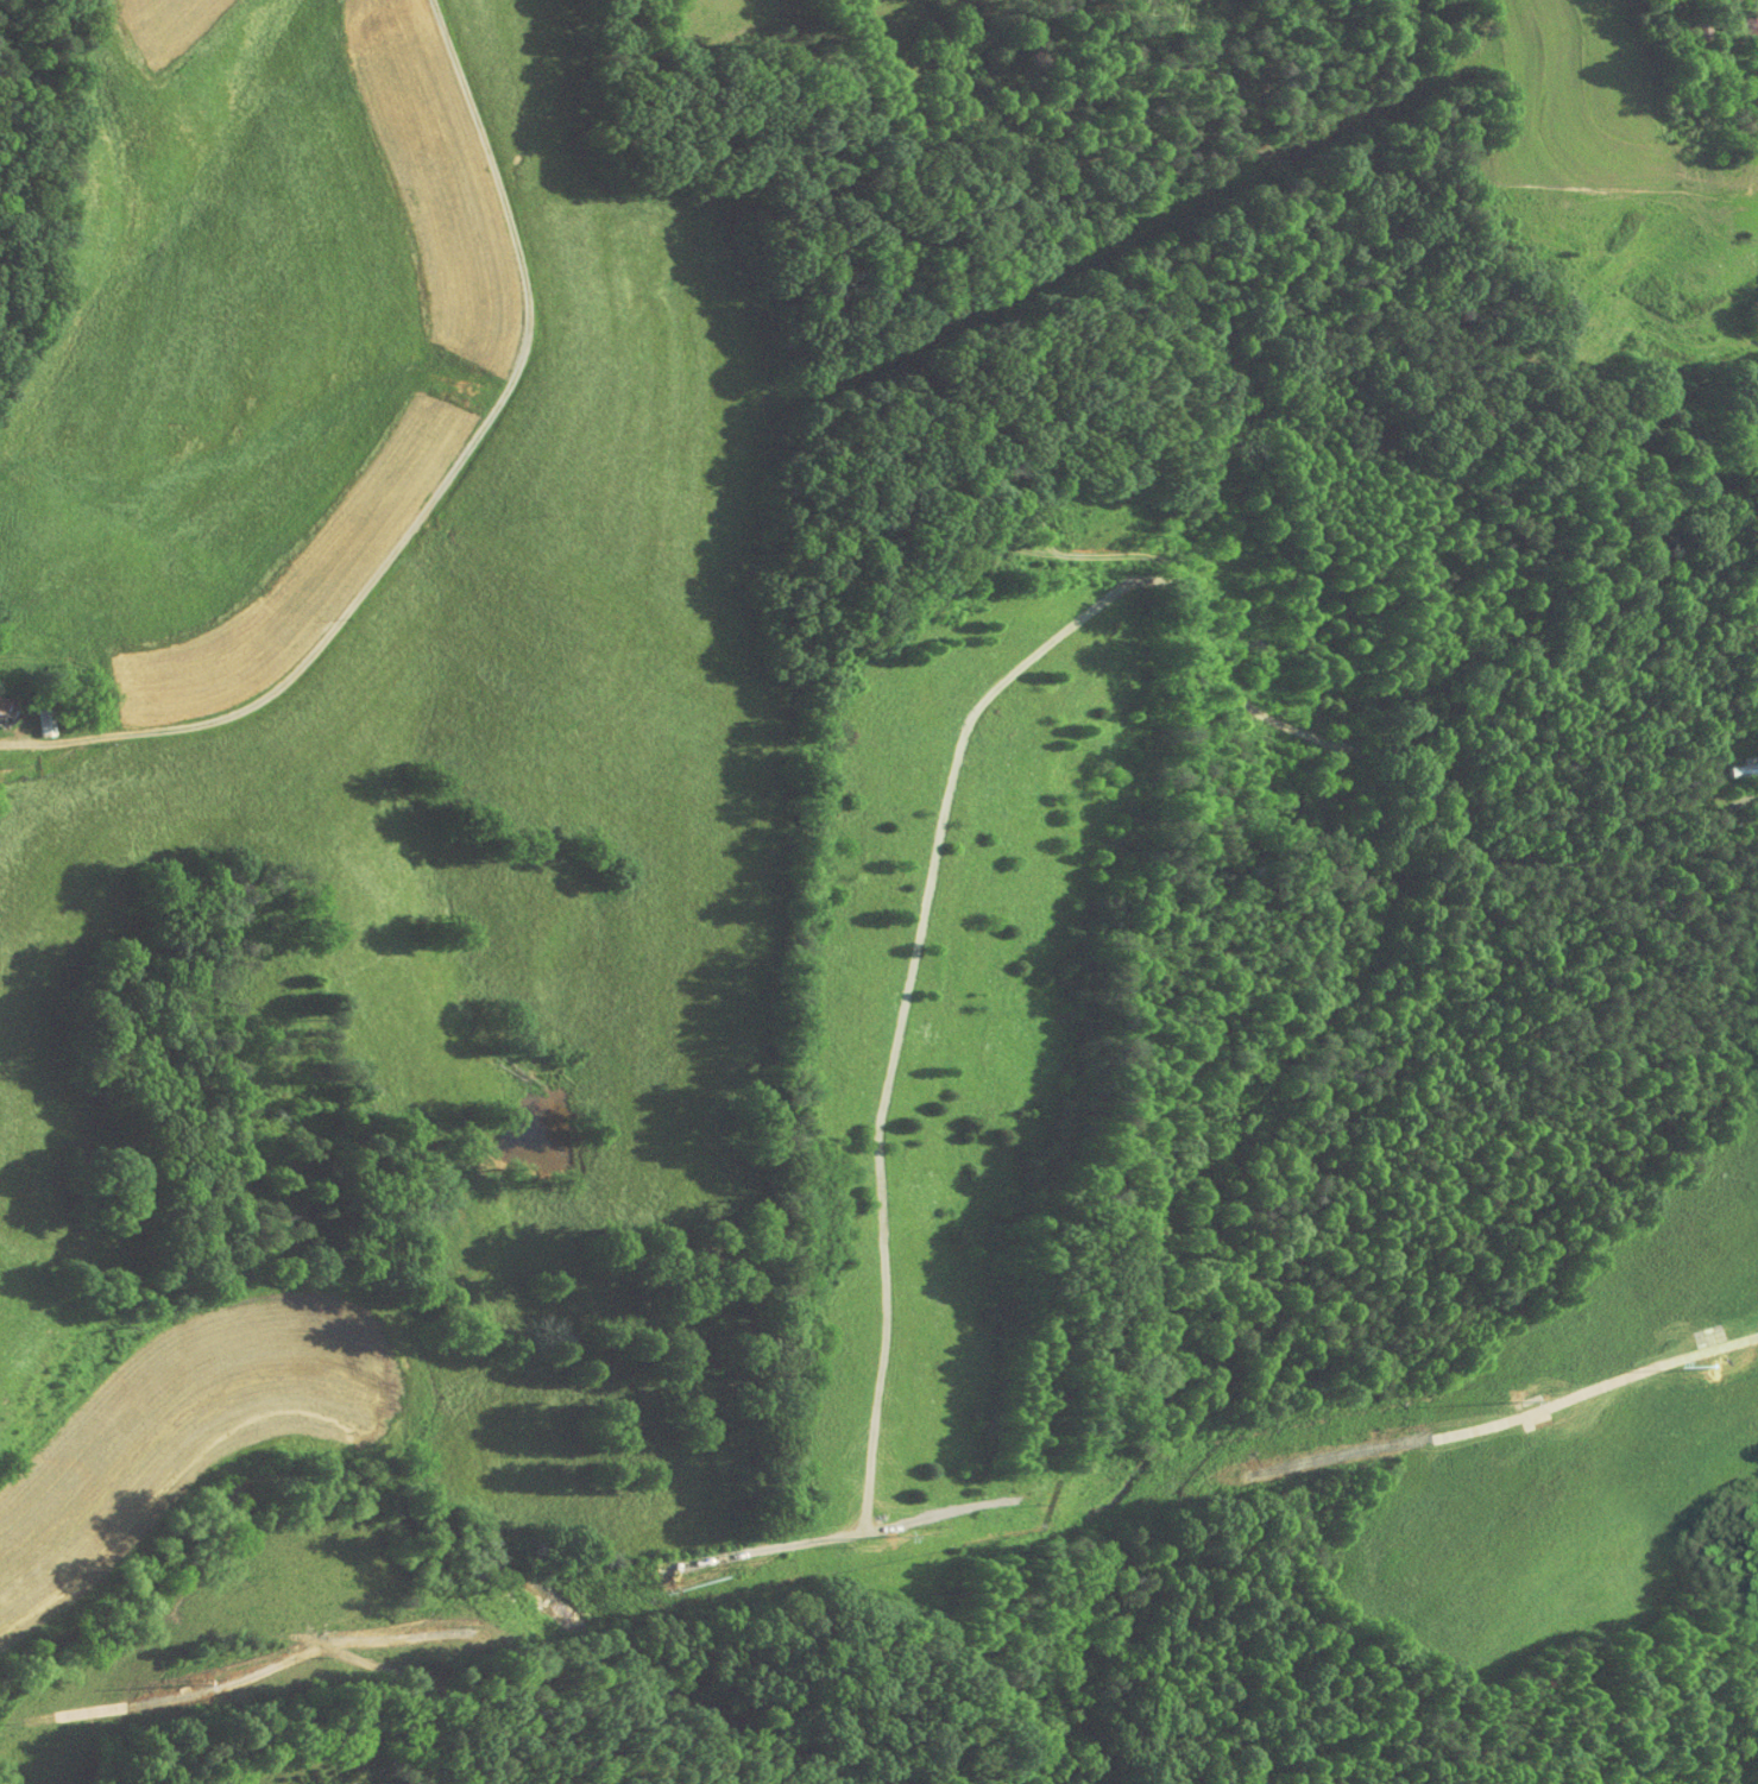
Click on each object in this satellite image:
building: (1, 699)
building: (33, 716)
road: (1321, 738)
building: (1738, 763)

